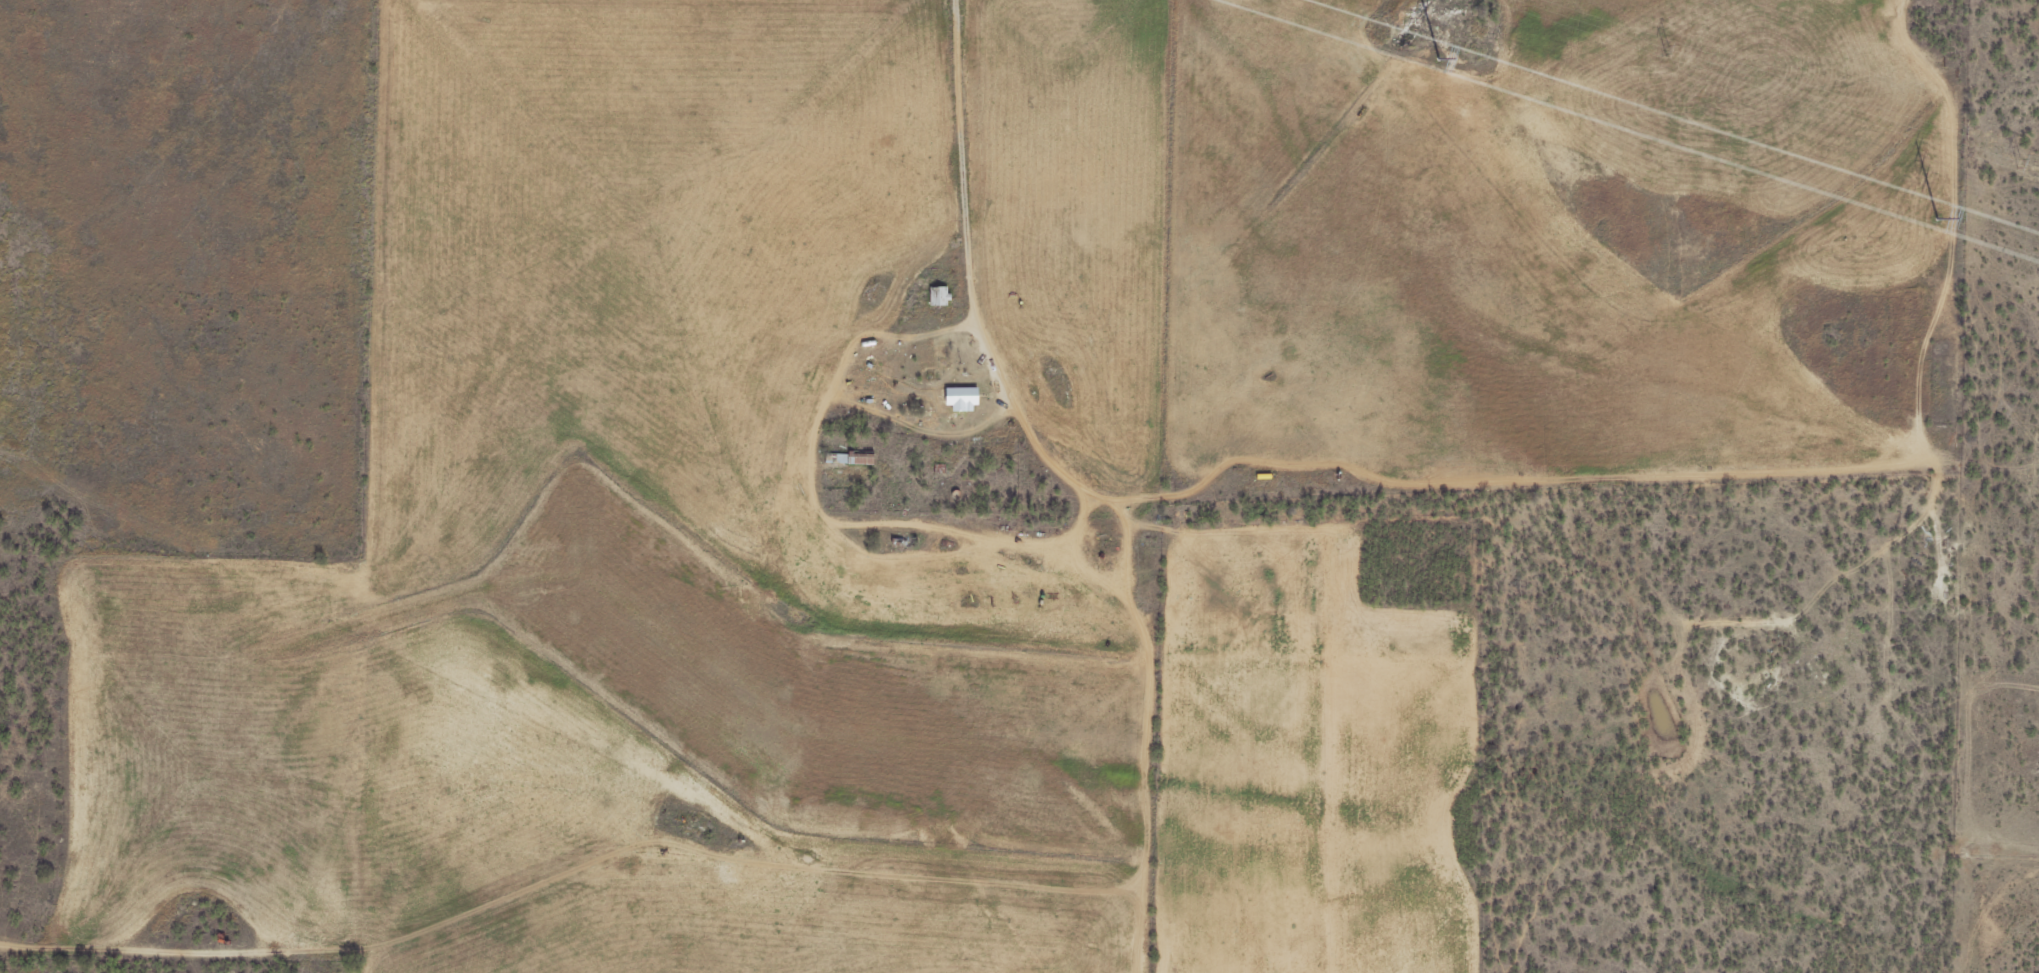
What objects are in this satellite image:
power tower: (1665, 49)
power tower: (1438, 57)
power tower: (2019, 162)
power tower: (1937, 215)
building: (936, 298)
building: (959, 400)
building: (847, 460)
road: (785, 775)

